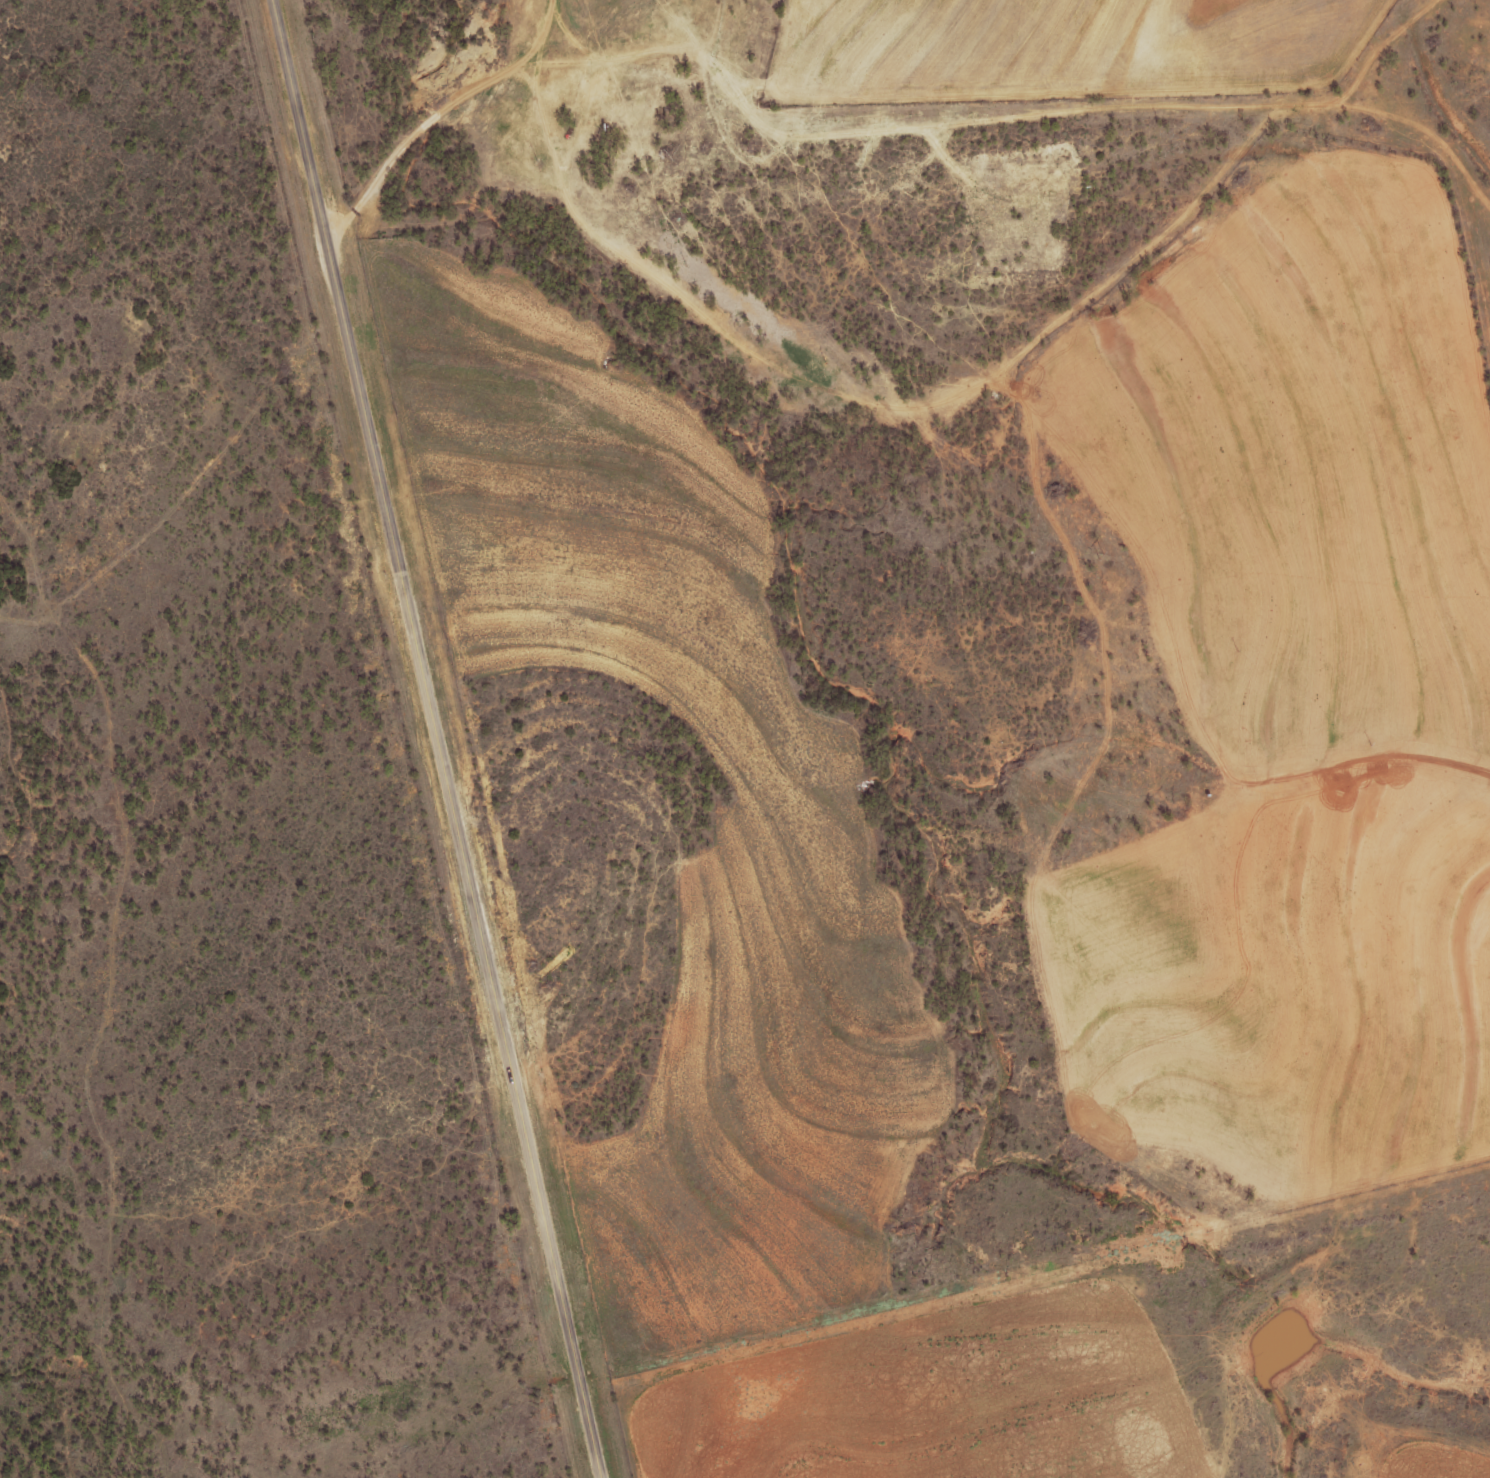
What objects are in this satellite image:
road: (538, 44)
road: (1378, 50)
road: (471, 92)
road: (988, 118)
road: (430, 121)
road: (300, 131)
road: (374, 188)
road: (463, 870)

